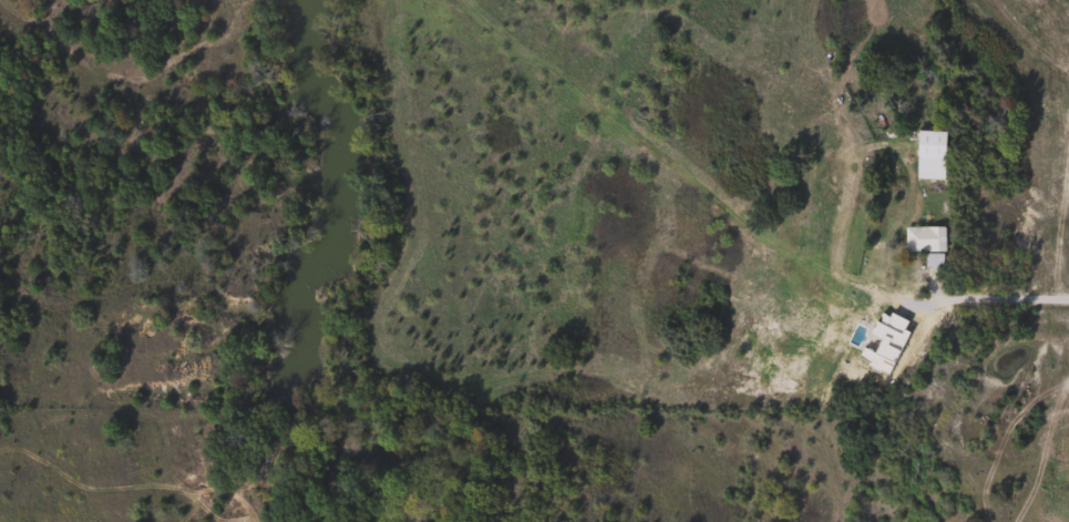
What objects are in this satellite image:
building: (927, 155)
building: (922, 240)
road: (1022, 300)

